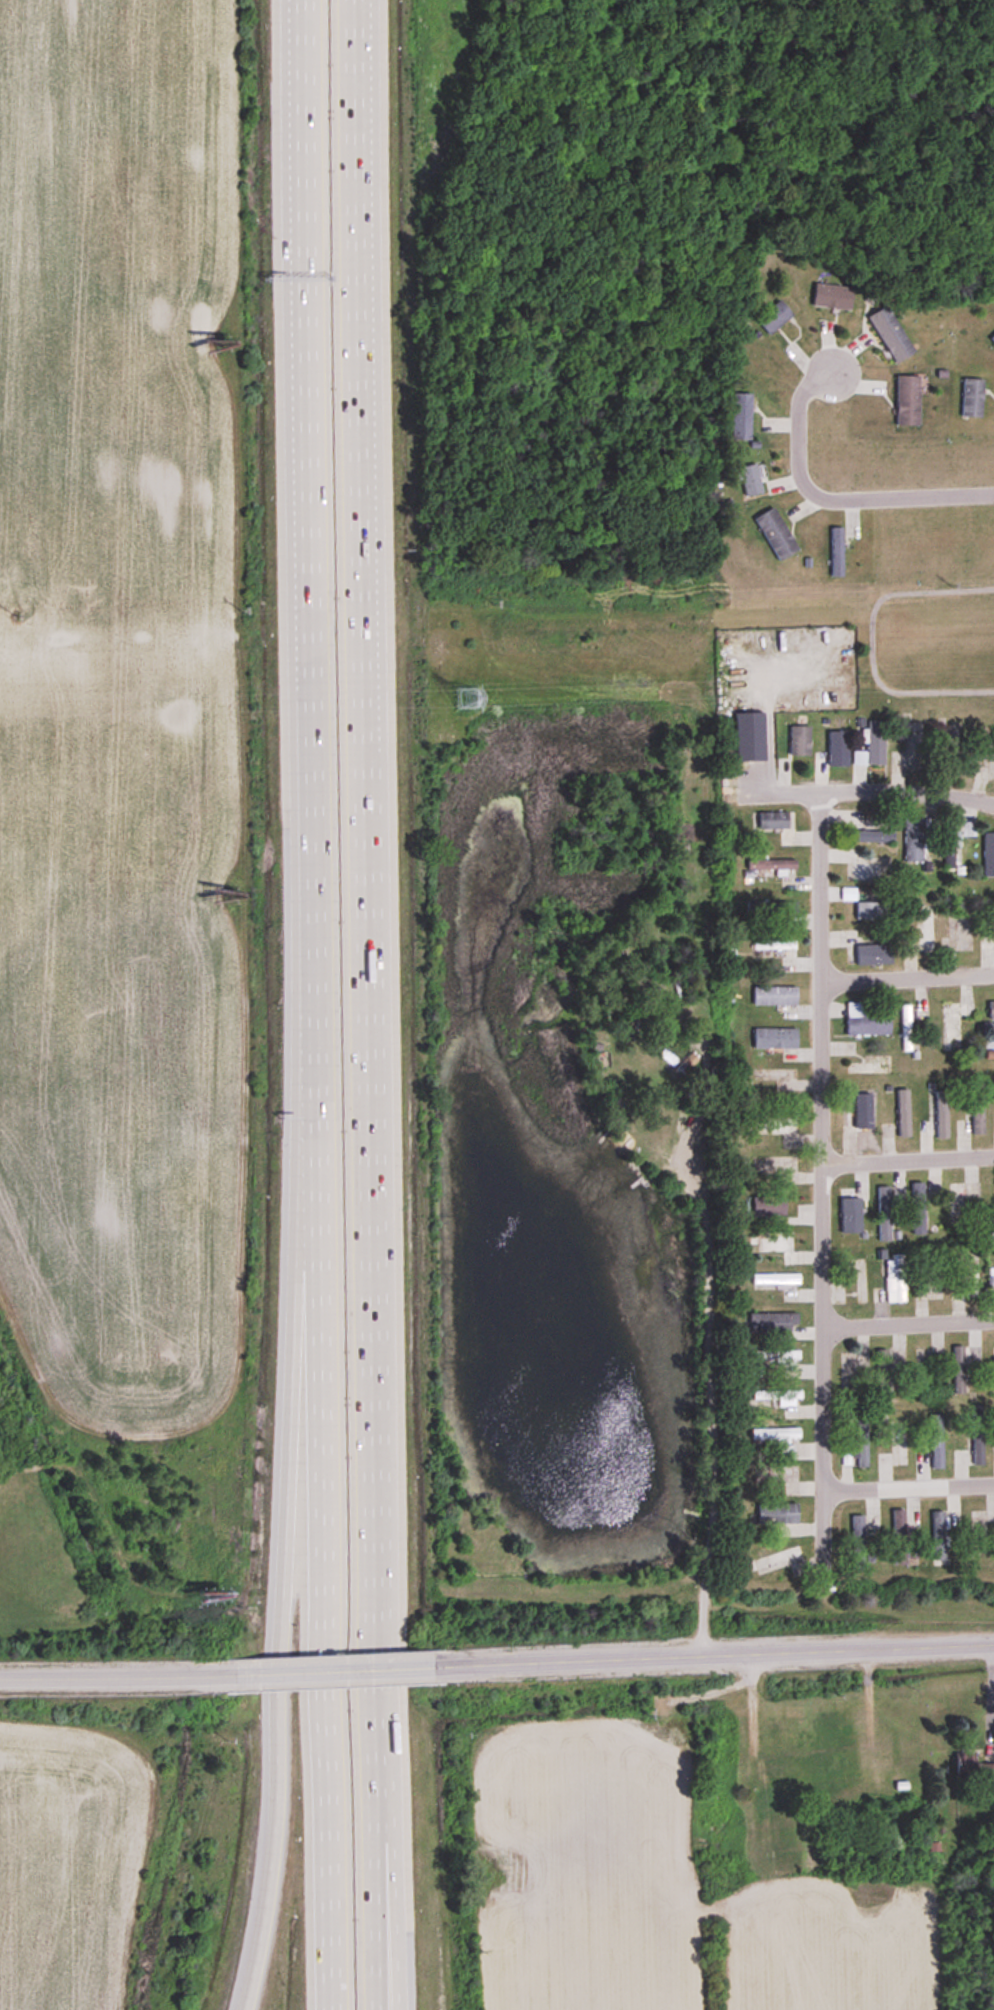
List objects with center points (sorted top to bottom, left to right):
building: (832, 297)
building: (774, 317)
building: (890, 335)
building: (992, 342)
building: (972, 398)
building: (907, 401)
building: (740, 416)
road: (833, 499)
building: (775, 534)
building: (836, 552)
power tower: (465, 697)
building: (465, 699)
road: (361, 718)
building: (749, 736)
building: (799, 741)
building: (873, 746)
building: (955, 748)
building: (939, 770)
road: (907, 792)
building: (773, 821)
building: (870, 834)
building: (917, 839)
building: (955, 841)
building: (988, 855)
building: (771, 865)
building: (870, 871)
building: (873, 911)
building: (926, 930)
building: (986, 942)
building: (773, 946)
road: (908, 979)
building: (774, 996)
road: (316, 1004)
building: (991, 1012)
building: (864, 1022)
building: (906, 1028)
building: (948, 1028)
building: (774, 1039)
building: (988, 1044)
building: (979, 1108)
building: (939, 1113)
building: (903, 1114)
building: (866, 1118)
building: (778, 1131)
road: (823, 1138)
road: (909, 1158)
building: (957, 1204)
building: (768, 1206)
building: (848, 1209)
building: (917, 1209)
building: (884, 1214)
building: (779, 1247)
building: (974, 1268)
building: (775, 1279)
building: (895, 1280)
building: (931, 1280)
road: (909, 1322)
building: (770, 1324)
road: (292, 1339)
building: (993, 1353)
building: (777, 1356)
building: (958, 1370)
building: (883, 1374)
building: (846, 1375)
building: (782, 1401)
building: (978, 1441)
building: (862, 1444)
building: (778, 1478)
road: (909, 1486)
building: (778, 1514)
building: (939, 1536)
building: (899, 1537)
building: (858, 1539)
building: (775, 1559)
road: (719, 1653)
road: (335, 1669)
road: (113, 1675)
road: (387, 1723)
road: (374, 1724)
building: (972, 1769)

